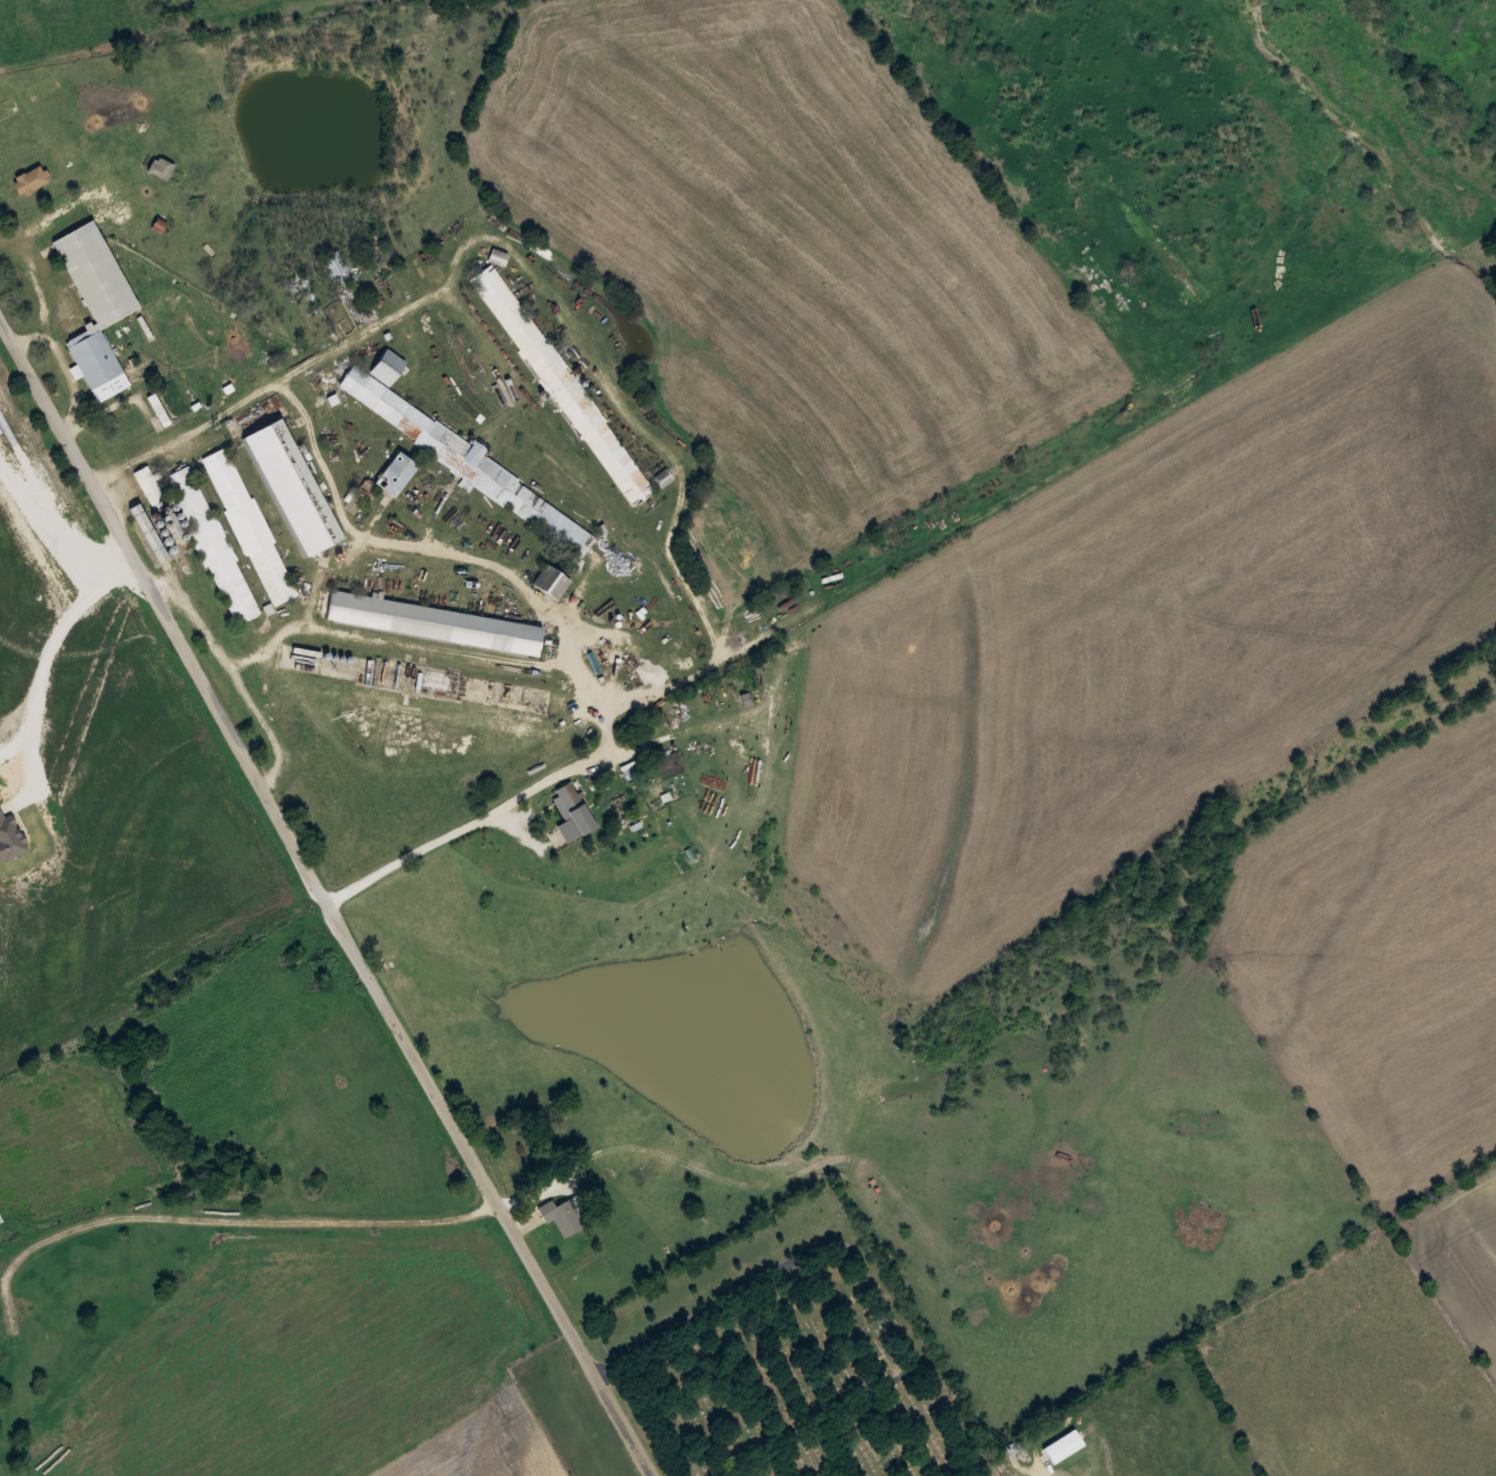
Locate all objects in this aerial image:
building: (498, 256)
building: (336, 264)
building: (299, 278)
building: (95, 306)
building: (360, 307)
building: (562, 384)
building: (465, 456)
building: (664, 477)
building: (148, 485)
building: (292, 485)
building: (248, 525)
building: (212, 544)
building: (549, 582)
building: (431, 622)
building: (571, 812)
road: (328, 898)
building: (563, 1215)
road: (243, 1220)
building: (695, 1221)

